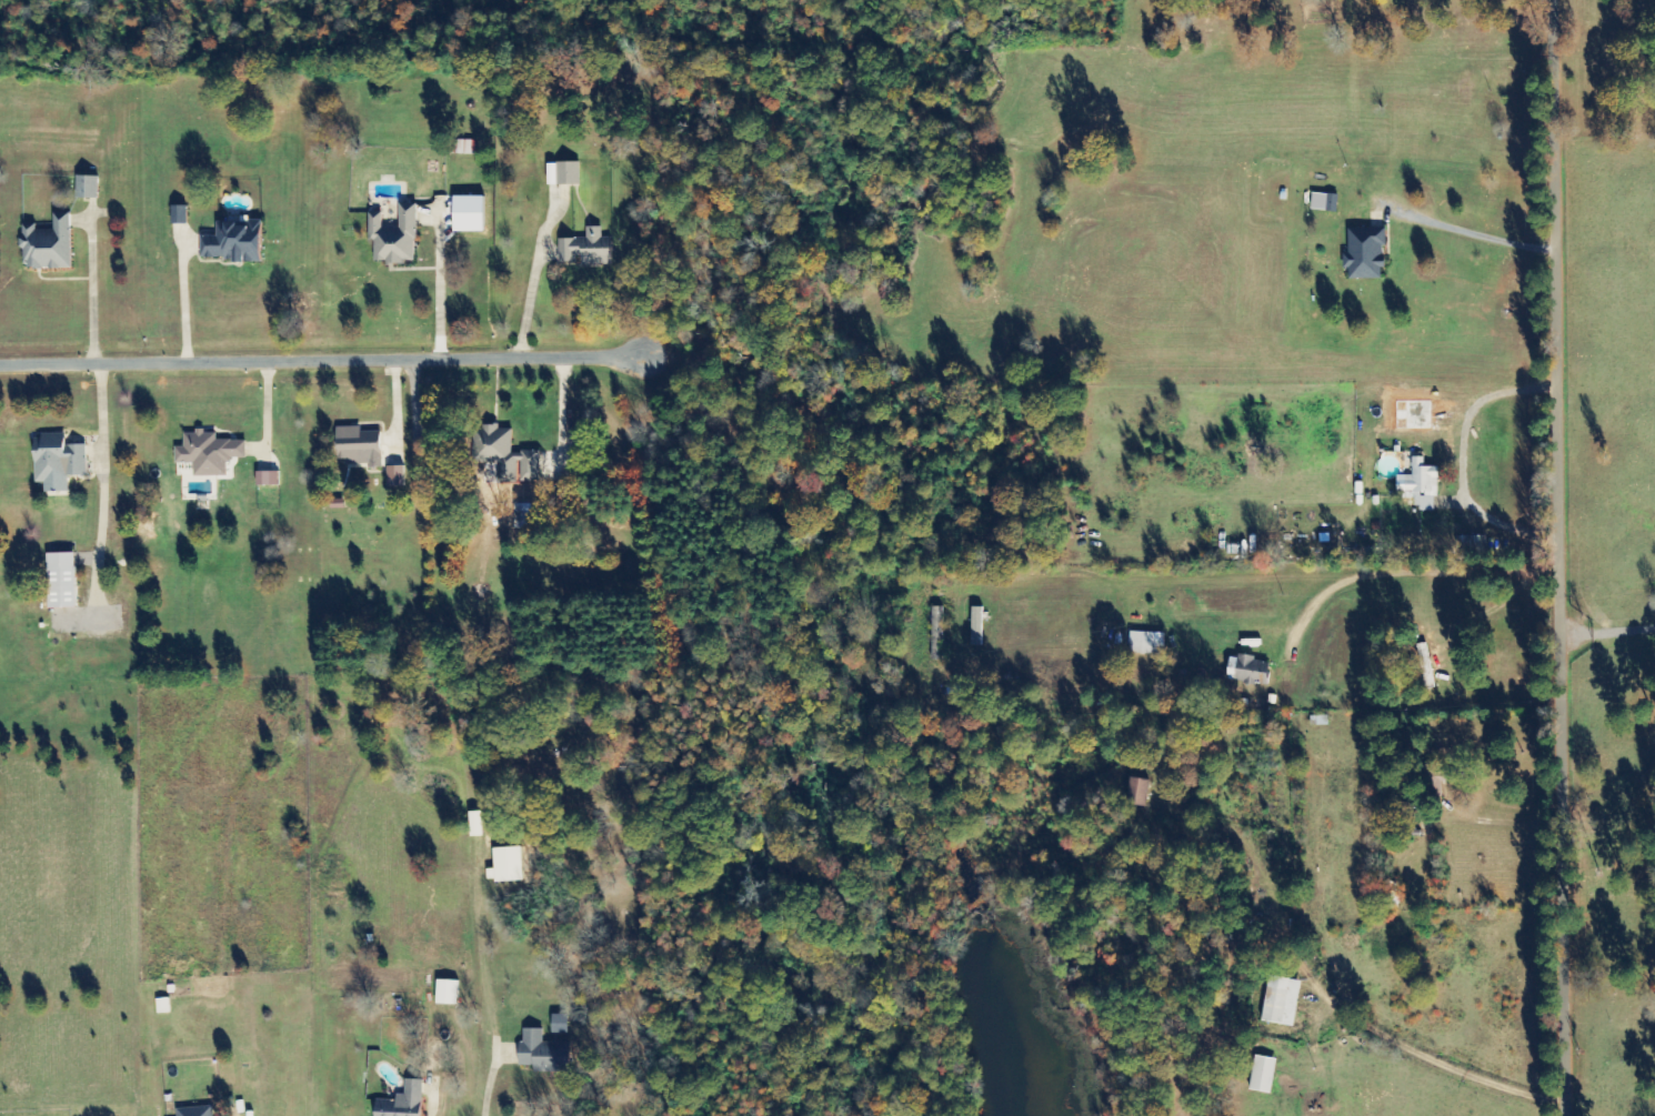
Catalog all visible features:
building: (464, 148)
building: (87, 185)
building: (1324, 202)
building: (179, 213)
building: (394, 237)
building: (234, 241)
building: (48, 244)
building: (586, 250)
building: (1365, 254)
road: (333, 362)
building: (359, 446)
building: (209, 453)
building: (505, 453)
building: (58, 462)
building: (395, 475)
building: (268, 477)
building: (1420, 485)
building: (523, 515)
building: (1472, 543)
road: (1571, 557)
building: (61, 581)
building: (977, 626)
building: (936, 633)
building: (1146, 643)
building: (1247, 670)
building: (1139, 792)
building: (505, 865)
building: (448, 992)
building: (1282, 1003)
building: (162, 1006)
building: (560, 1024)
building: (542, 1053)
building: (1263, 1075)
building: (403, 1102)
building: (195, 1112)

